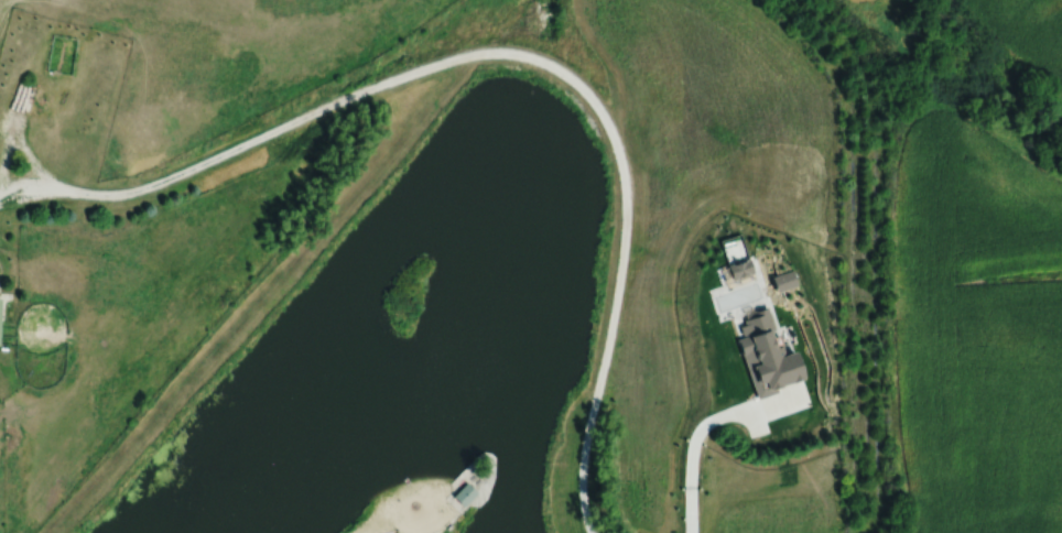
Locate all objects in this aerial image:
road: (509, 53)
building: (0, 303)
building: (776, 361)
road: (696, 443)
building: (465, 496)

